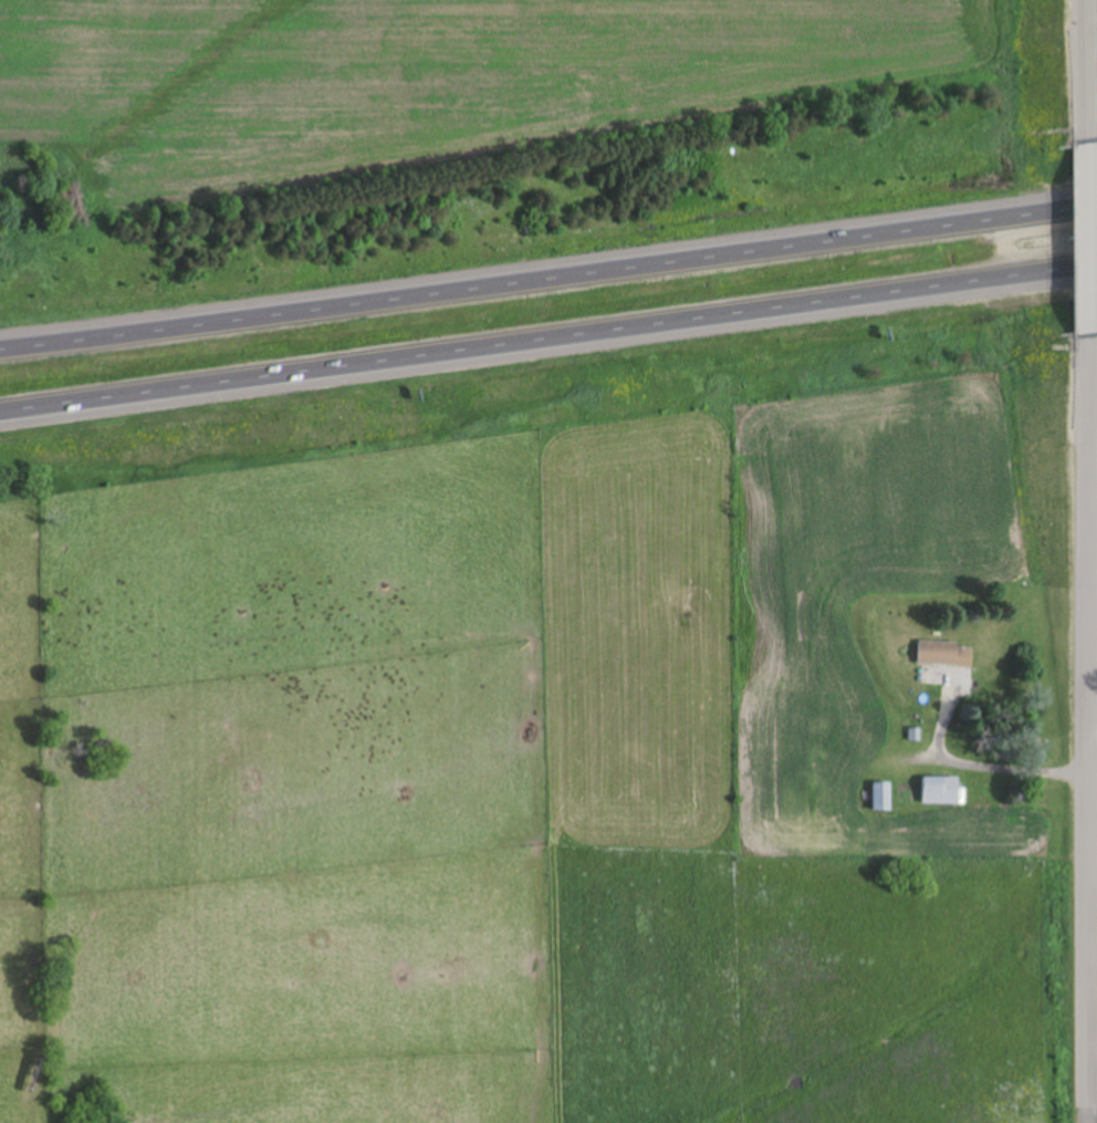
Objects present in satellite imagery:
crop: (1096, 13)
crop: (439, 75)
road: (1086, 80)
road: (1089, 238)
road: (548, 280)
road: (548, 339)
building: (945, 654)
road: (1086, 718)
road: (1091, 721)
road: (1012, 769)
building: (942, 790)
building: (882, 797)

